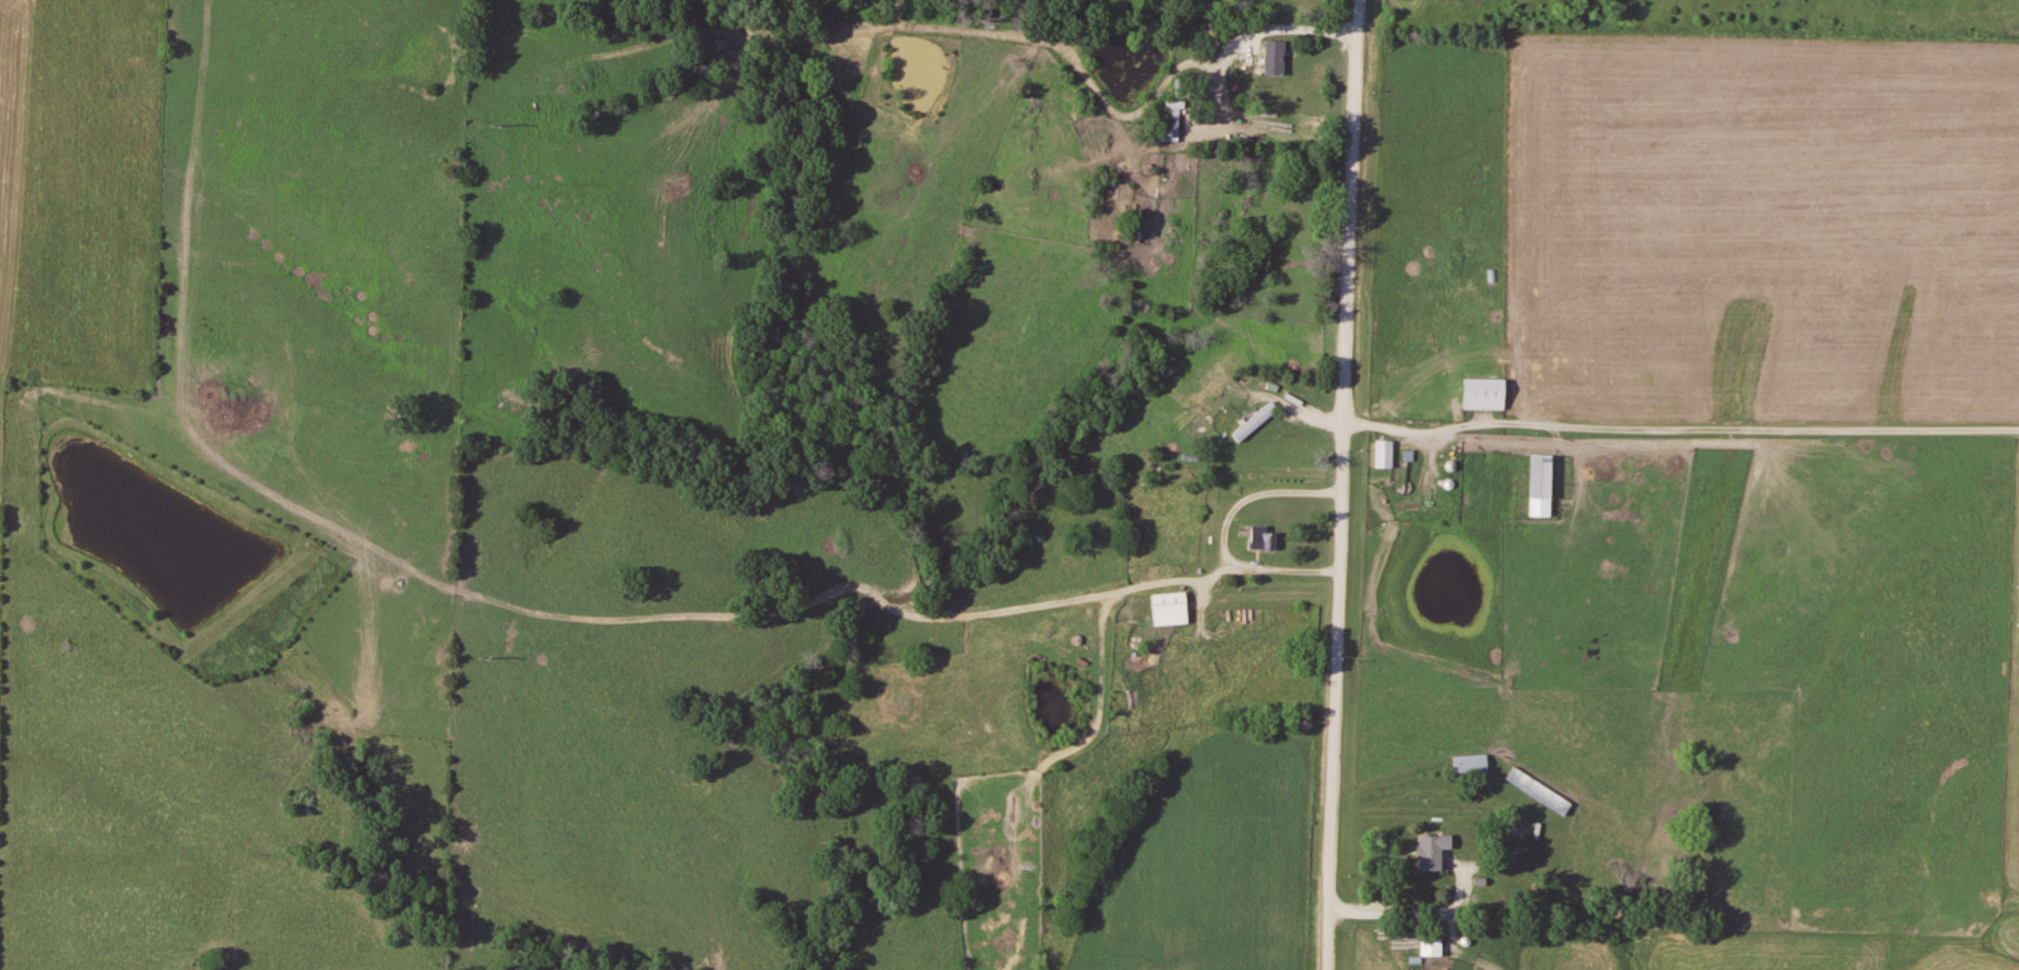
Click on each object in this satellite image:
building: (1269, 65)
building: (1173, 120)
building: (1487, 394)
building: (1256, 422)
building: (1385, 453)
road: (1343, 485)
building: (1543, 485)
building: (1264, 538)
building: (1171, 609)
building: (1472, 764)
building: (1541, 792)
building: (1434, 851)
building: (1433, 945)

